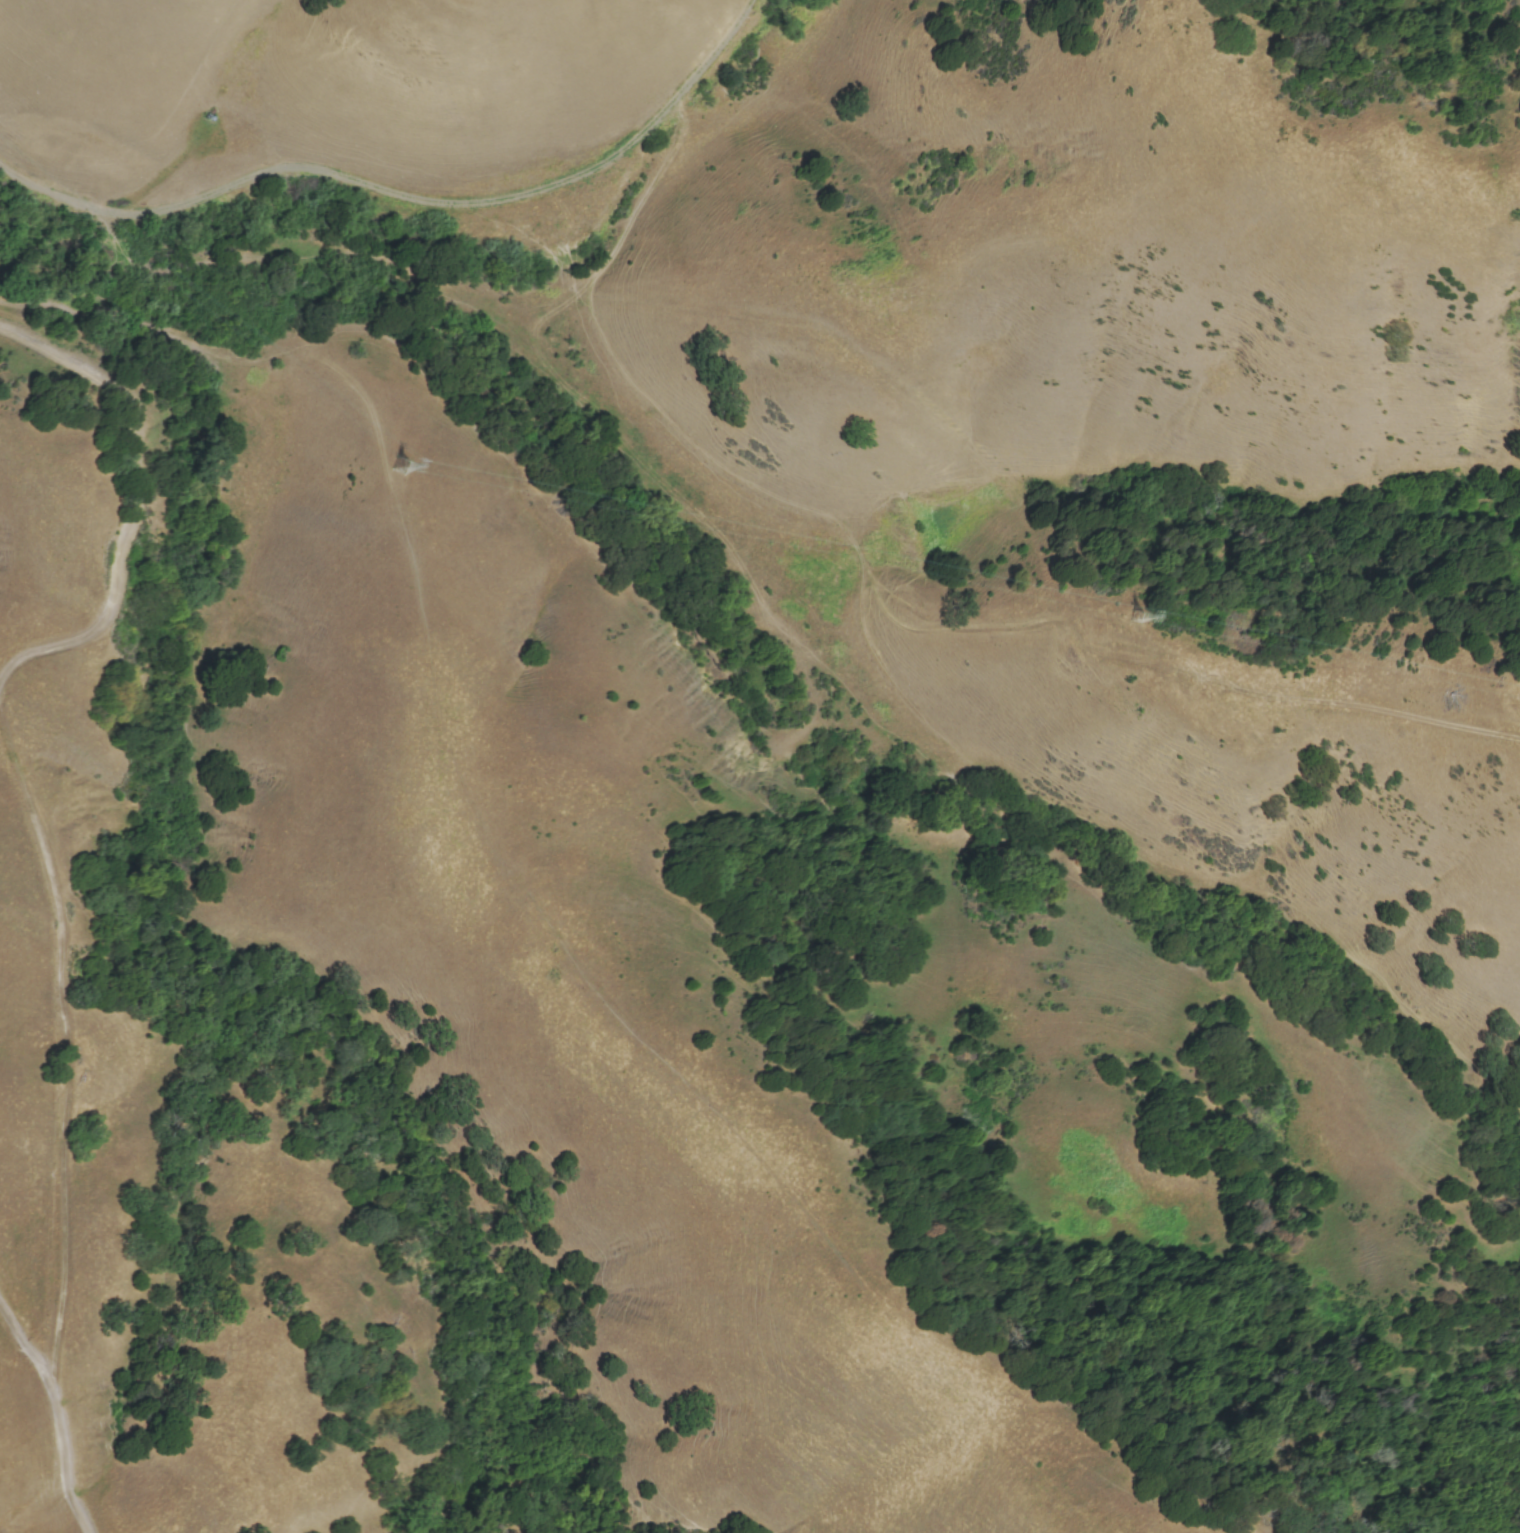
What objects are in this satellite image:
road: (407, 198)
power tower: (404, 470)
power tower: (1140, 623)
road: (62, 1458)

